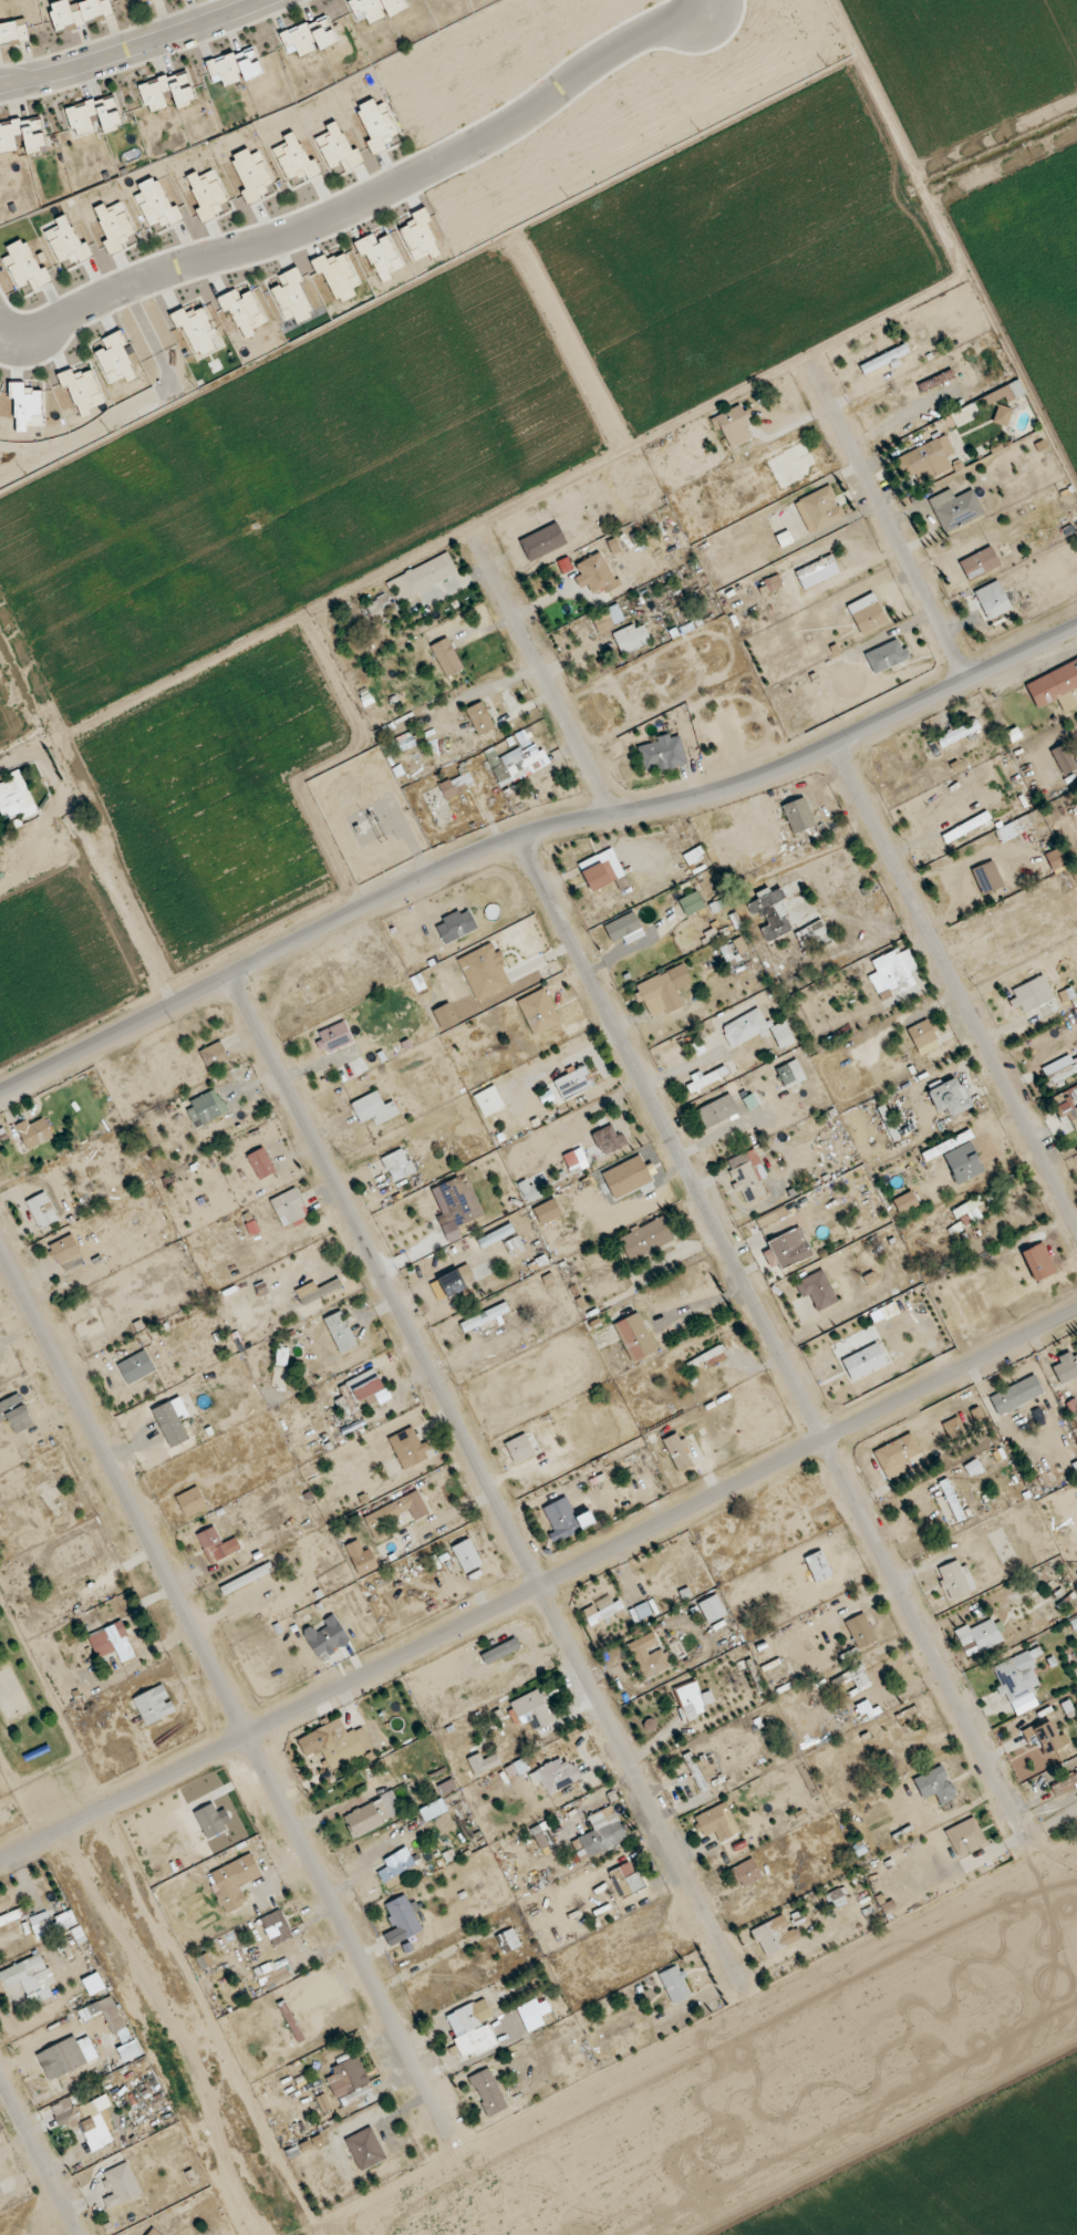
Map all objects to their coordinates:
building: (375, 8)
building: (77, 11)
building: (13, 29)
building: (308, 35)
road: (126, 50)
building: (235, 65)
building: (153, 90)
building: (93, 114)
building: (21, 133)
road: (380, 195)
building: (886, 360)
building: (936, 381)
building: (965, 414)
building: (1003, 415)
building: (733, 426)
road: (843, 432)
building: (926, 459)
building: (956, 508)
building: (819, 509)
building: (785, 539)
building: (543, 541)
building: (980, 563)
building: (817, 572)
building: (594, 575)
building: (423, 576)
building: (774, 582)
road: (921, 588)
building: (993, 600)
building: (867, 613)
building: (602, 622)
building: (632, 638)
road: (527, 639)
building: (887, 655)
building: (446, 656)
building: (1055, 687)
building: (479, 717)
building: (957, 734)
building: (663, 753)
building: (540, 757)
building: (1064, 759)
road: (593, 778)
building: (453, 786)
building: (15, 796)
building: (798, 815)
building: (1015, 828)
road: (529, 836)
building: (693, 857)
building: (1056, 859)
building: (601, 870)
building: (987, 878)
building: (691, 903)
building: (771, 913)
building: (456, 925)
building: (624, 929)
building: (812, 937)
building: (739, 945)
building: (484, 971)
building: (892, 973)
road: (955, 990)
building: (660, 994)
building: (1032, 994)
building: (538, 1012)
building: (757, 1029)
building: (921, 1034)
building: (334, 1036)
building: (928, 1047)
building: (214, 1054)
building: (1062, 1068)
building: (790, 1074)
building: (705, 1078)
building: (571, 1084)
building: (950, 1097)
building: (749, 1103)
building: (1066, 1105)
building: (205, 1107)
building: (374, 1108)
building: (718, 1110)
building: (888, 1122)
building: (34, 1132)
building: (609, 1140)
building: (947, 1146)
building: (574, 1157)
building: (261, 1162)
building: (397, 1167)
building: (747, 1175)
building: (460, 1200)
building: (905, 1202)
building: (289, 1207)
building: (42, 1209)
building: (969, 1212)
building: (773, 1219)
building: (496, 1234)
building: (646, 1238)
building: (515, 1244)
building: (789, 1246)
building: (66, 1252)
building: (1038, 1261)
building: (456, 1279)
building: (817, 1289)
building: (317, 1290)
building: (485, 1317)
building: (340, 1331)
building: (635, 1336)
road: (773, 1341)
building: (863, 1362)
building: (136, 1366)
building: (1066, 1367)
building: (366, 1385)
building: (1016, 1394)
building: (15, 1413)
building: (952, 1424)
building: (519, 1447)
building: (410, 1448)
building: (677, 1451)
building: (897, 1452)
building: (973, 1467)
road: (488, 1484)
building: (191, 1501)
building: (395, 1513)
building: (565, 1518)
building: (213, 1543)
building: (467, 1554)
building: (362, 1558)
building: (82, 1577)
building: (955, 1579)
road: (538, 1586)
building: (712, 1607)
building: (601, 1612)
building: (861, 1631)
building: (978, 1634)
building: (325, 1636)
building: (110, 1641)
building: (500, 1651)
building: (648, 1655)
building: (1007, 1667)
road: (222, 1685)
building: (691, 1700)
building: (154, 1704)
building: (531, 1709)
building: (1045, 1736)
building: (340, 1742)
park: (39, 1746)
building: (695, 1771)
building: (1065, 1783)
building: (936, 1786)
building: (433, 1809)
building: (366, 1818)
building: (715, 1821)
building: (600, 1834)
building: (965, 1835)
building: (541, 1838)
building: (396, 1867)
building: (744, 1873)
building: (626, 1877)
building: (234, 1881)
building: (838, 1897)
building: (65, 1920)
building: (401, 1920)
building: (46, 1924)
building: (276, 1926)
building: (775, 1934)
building: (508, 1941)
road: (429, 1960)
building: (24, 1972)
building: (273, 1974)
building: (675, 1984)
building: (532, 2014)
building: (86, 2015)
building: (469, 2030)
building: (54, 2061)
building: (353, 2083)
building: (488, 2091)
building: (82, 2119)
building: (365, 2148)
road: (39, 2156)
building: (121, 2184)

